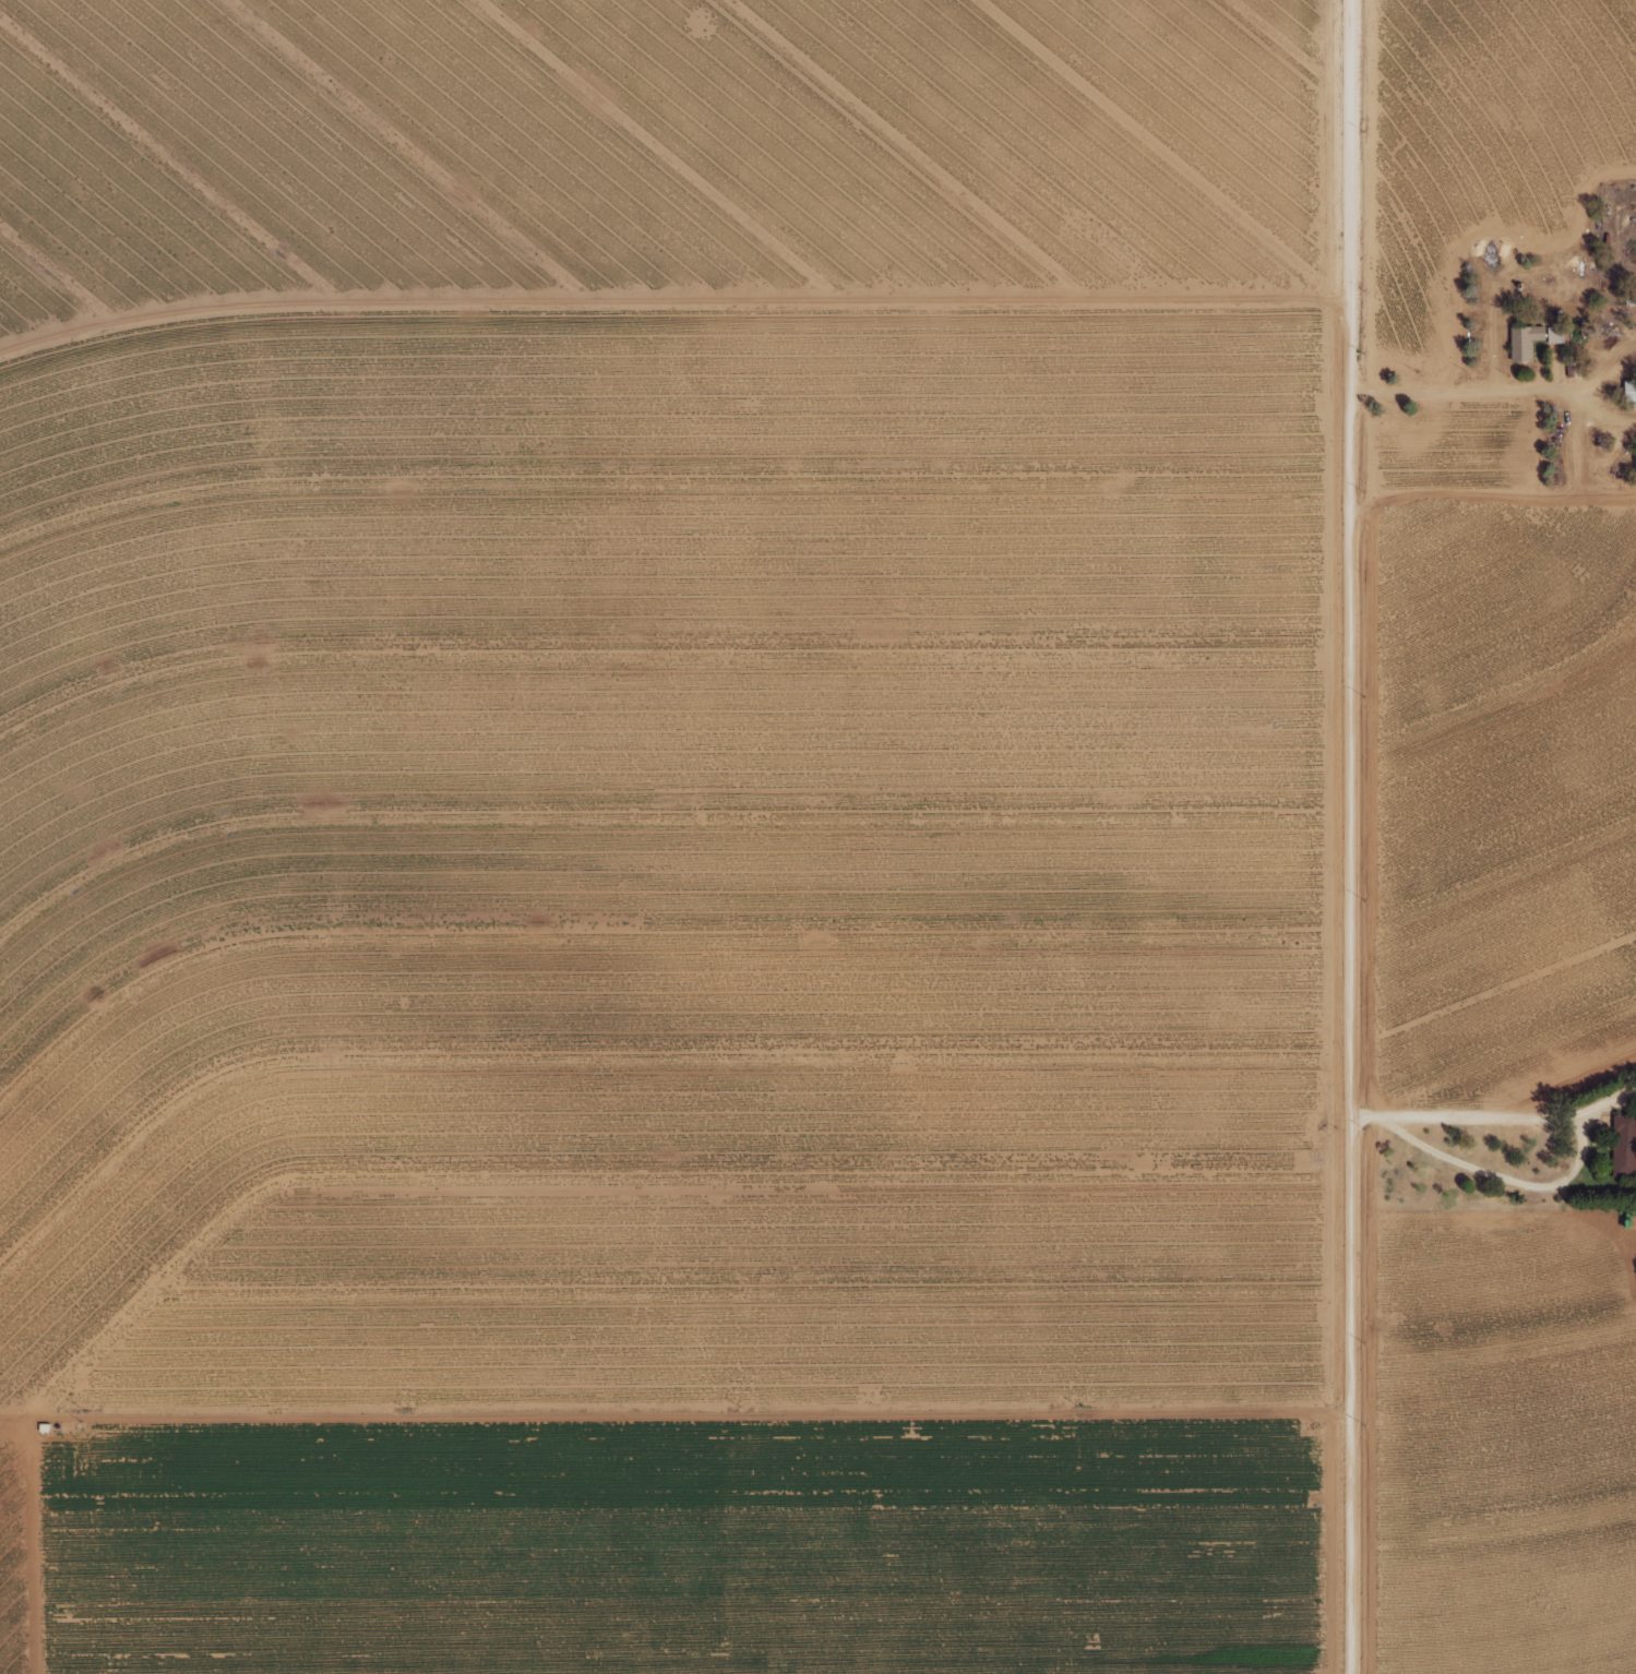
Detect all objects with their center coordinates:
building: (1520, 344)
road: (1344, 837)
road: (1468, 1122)

